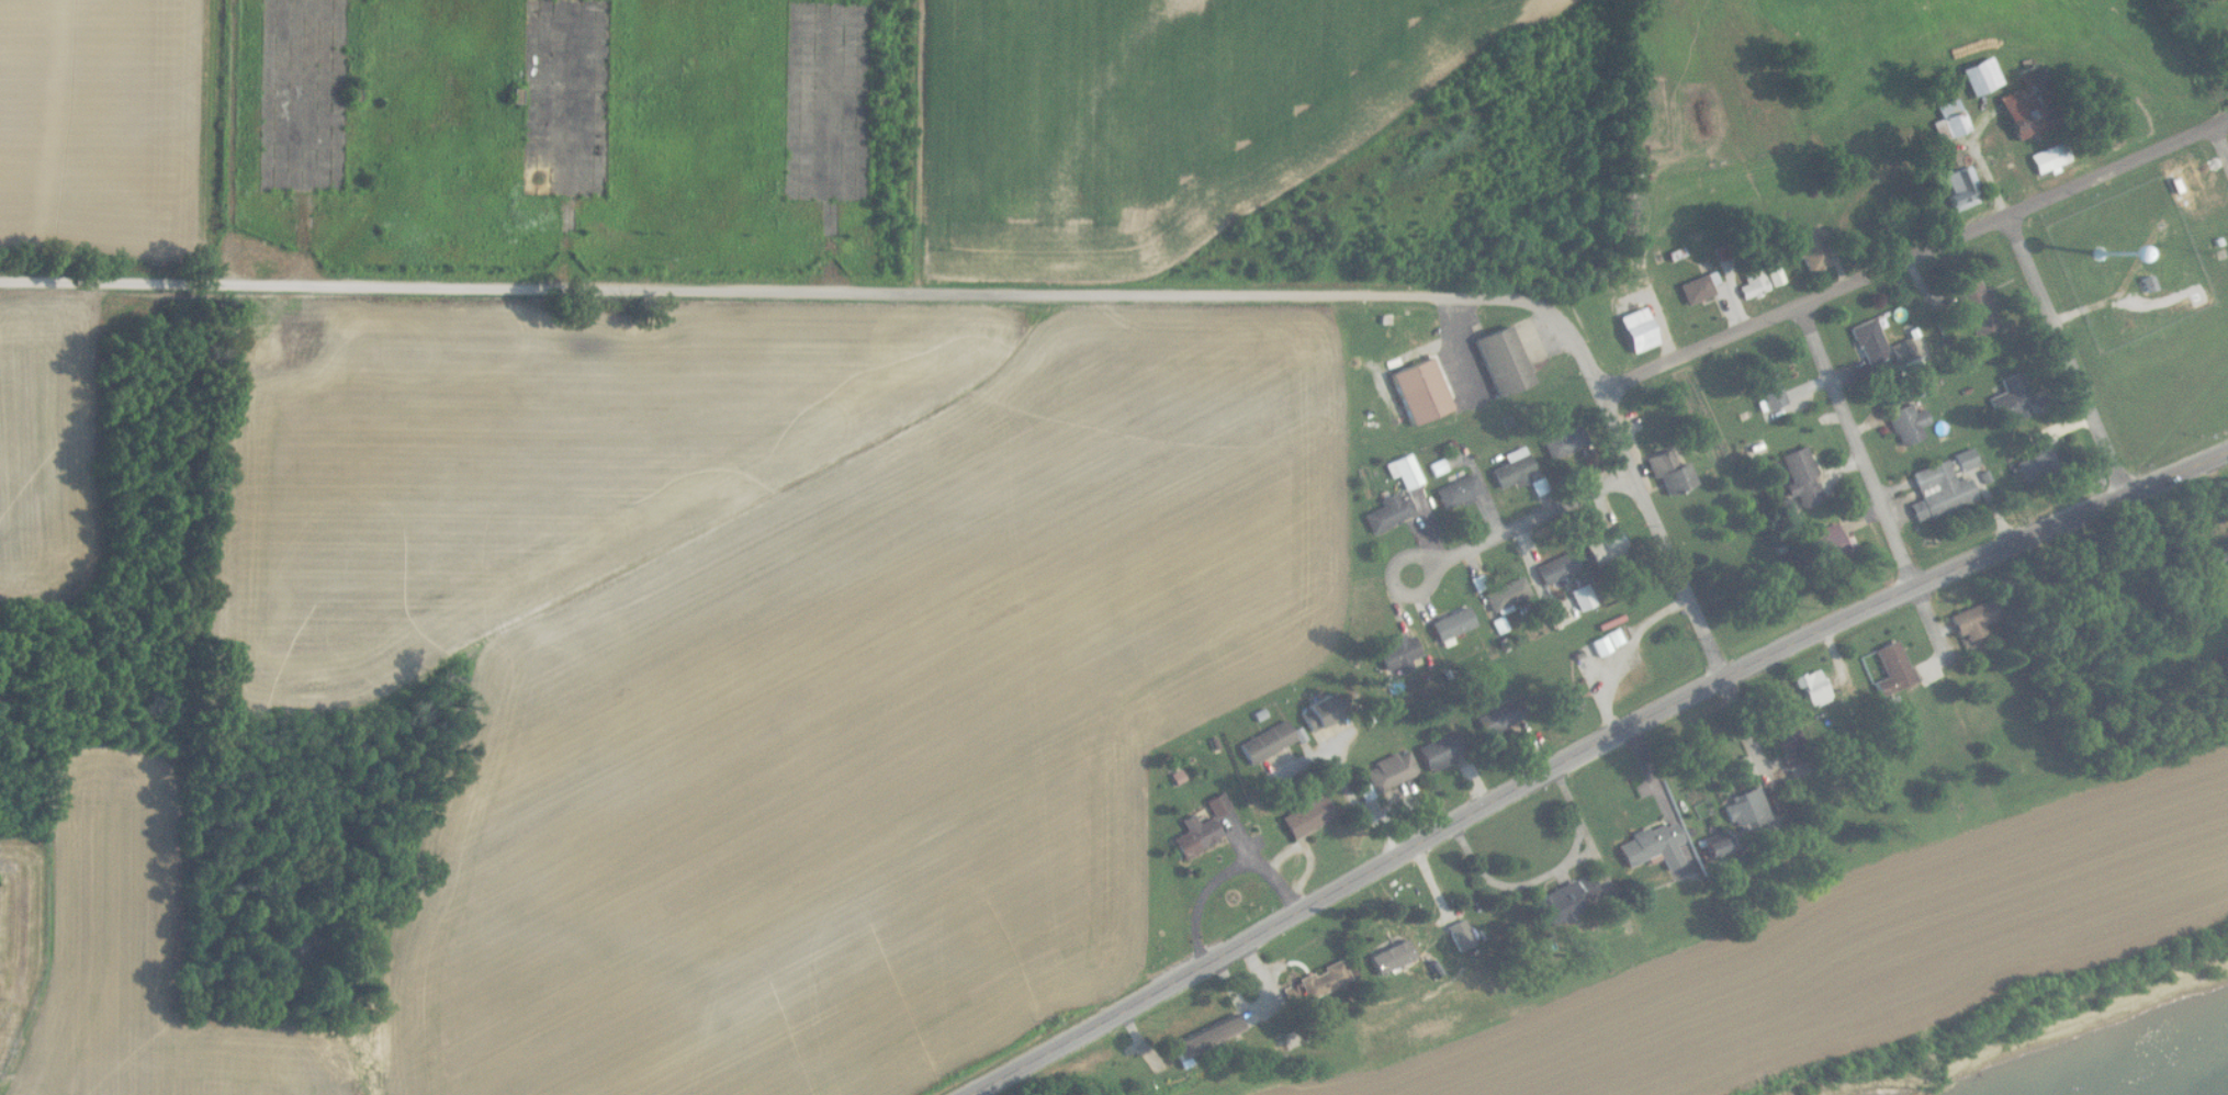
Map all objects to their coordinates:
building: (1980, 77)
road: (2221, 140)
road: (229, 144)
building: (2049, 159)
building: (1962, 189)
building: (1811, 250)
road: (1915, 256)
building: (1774, 271)
building: (1754, 284)
road: (154, 286)
building: (1699, 289)
road: (931, 296)
building: (1977, 306)
building: (1636, 331)
building: (1870, 342)
building: (1902, 349)
building: (1501, 361)
building: (1768, 387)
building: (1915, 390)
building: (1419, 392)
building: (2011, 399)
building: (1908, 425)
road: (2100, 433)
building: (1562, 443)
road: (1857, 445)
building: (1966, 460)
building: (2034, 466)
building: (1438, 467)
building: (1514, 469)
building: (1405, 472)
building: (1670, 473)
building: (1802, 479)
road: (1644, 490)
building: (1940, 492)
building: (1459, 493)
building: (1388, 513)
road: (1539, 513)
building: (1606, 547)
building: (1557, 568)
road: (1394, 587)
building: (1507, 595)
building: (1583, 598)
road: (1934, 620)
building: (1973, 620)
building: (1452, 624)
building: (1399, 654)
building: (1892, 669)
building: (1812, 689)
building: (1563, 705)
building: (1318, 712)
building: (1498, 721)
road: (1749, 736)
road: (1606, 738)
building: (1789, 741)
building: (1268, 743)
building: (1440, 753)
building: (1391, 771)
road: (1348, 786)
building: (1218, 804)
building: (1747, 810)
building: (1307, 817)
building: (1196, 836)
building: (1654, 846)
building: (1717, 848)
road: (1548, 873)
road: (1223, 874)
building: (1567, 899)
building: (1461, 936)
building: (1392, 958)
building: (1323, 981)
building: (1206, 1039)
road: (983, 1083)
road: (364, 1085)

